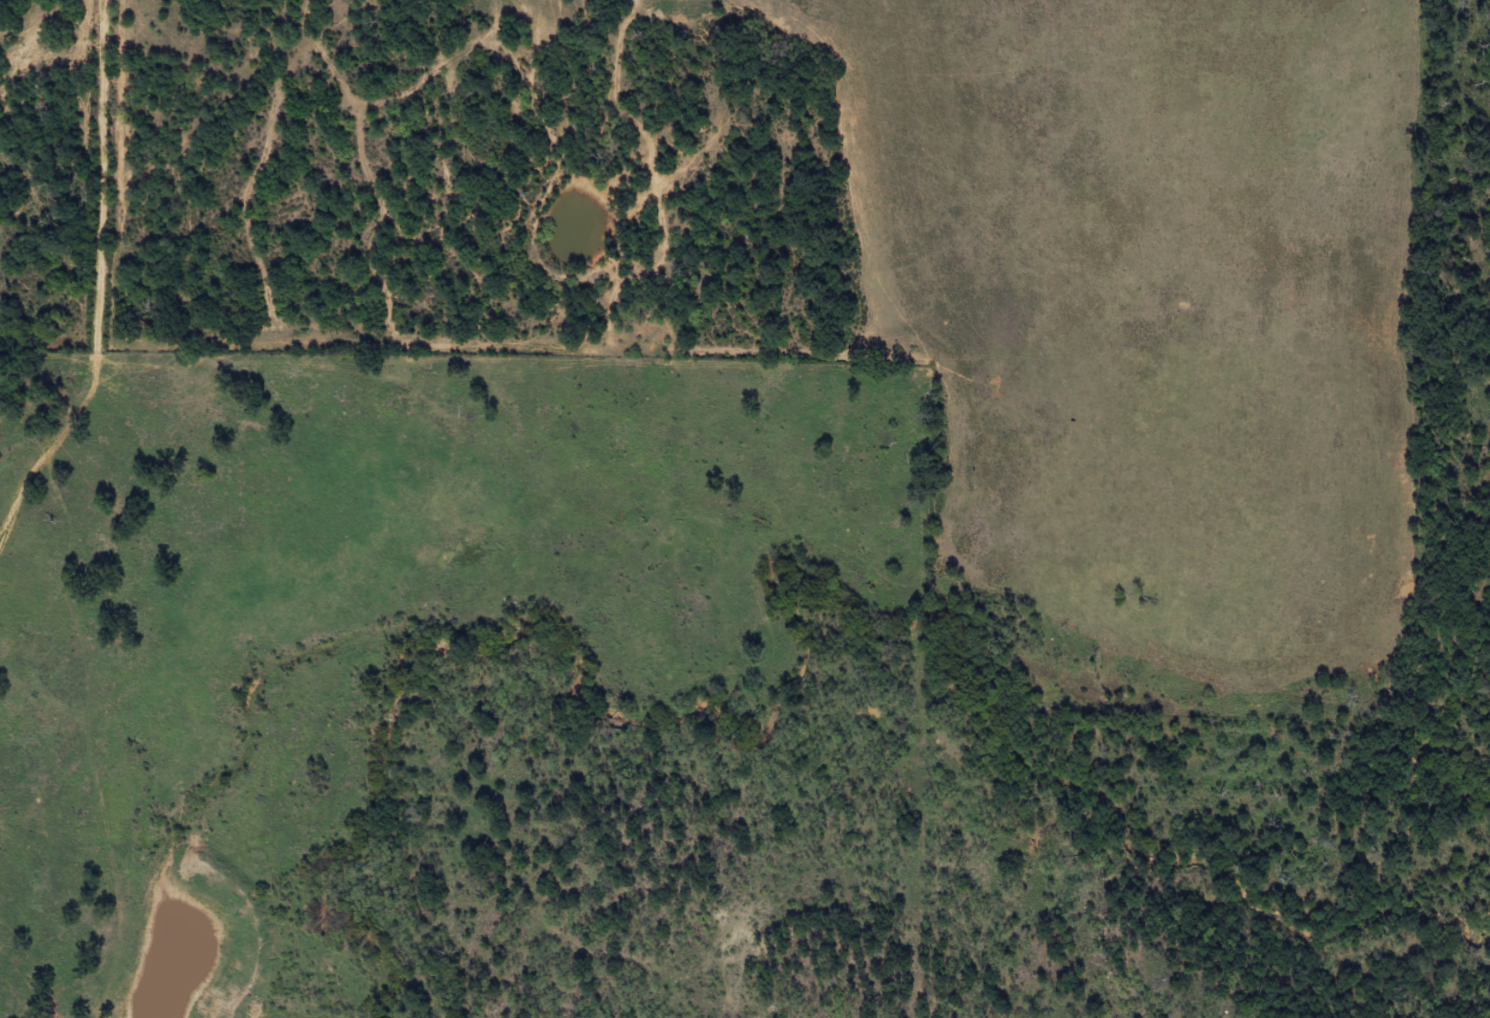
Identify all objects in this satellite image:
road: (600, 79)
road: (98, 330)

